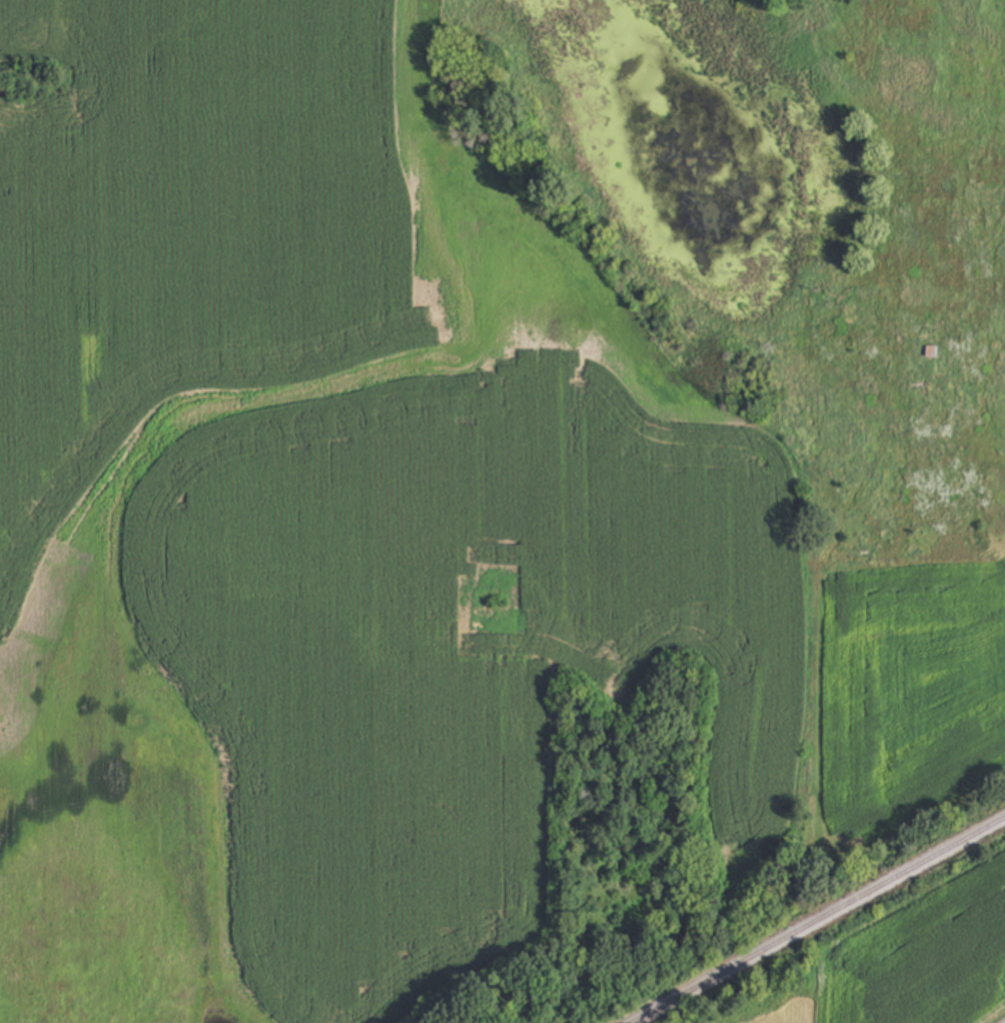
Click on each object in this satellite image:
railway: (818, 920)

